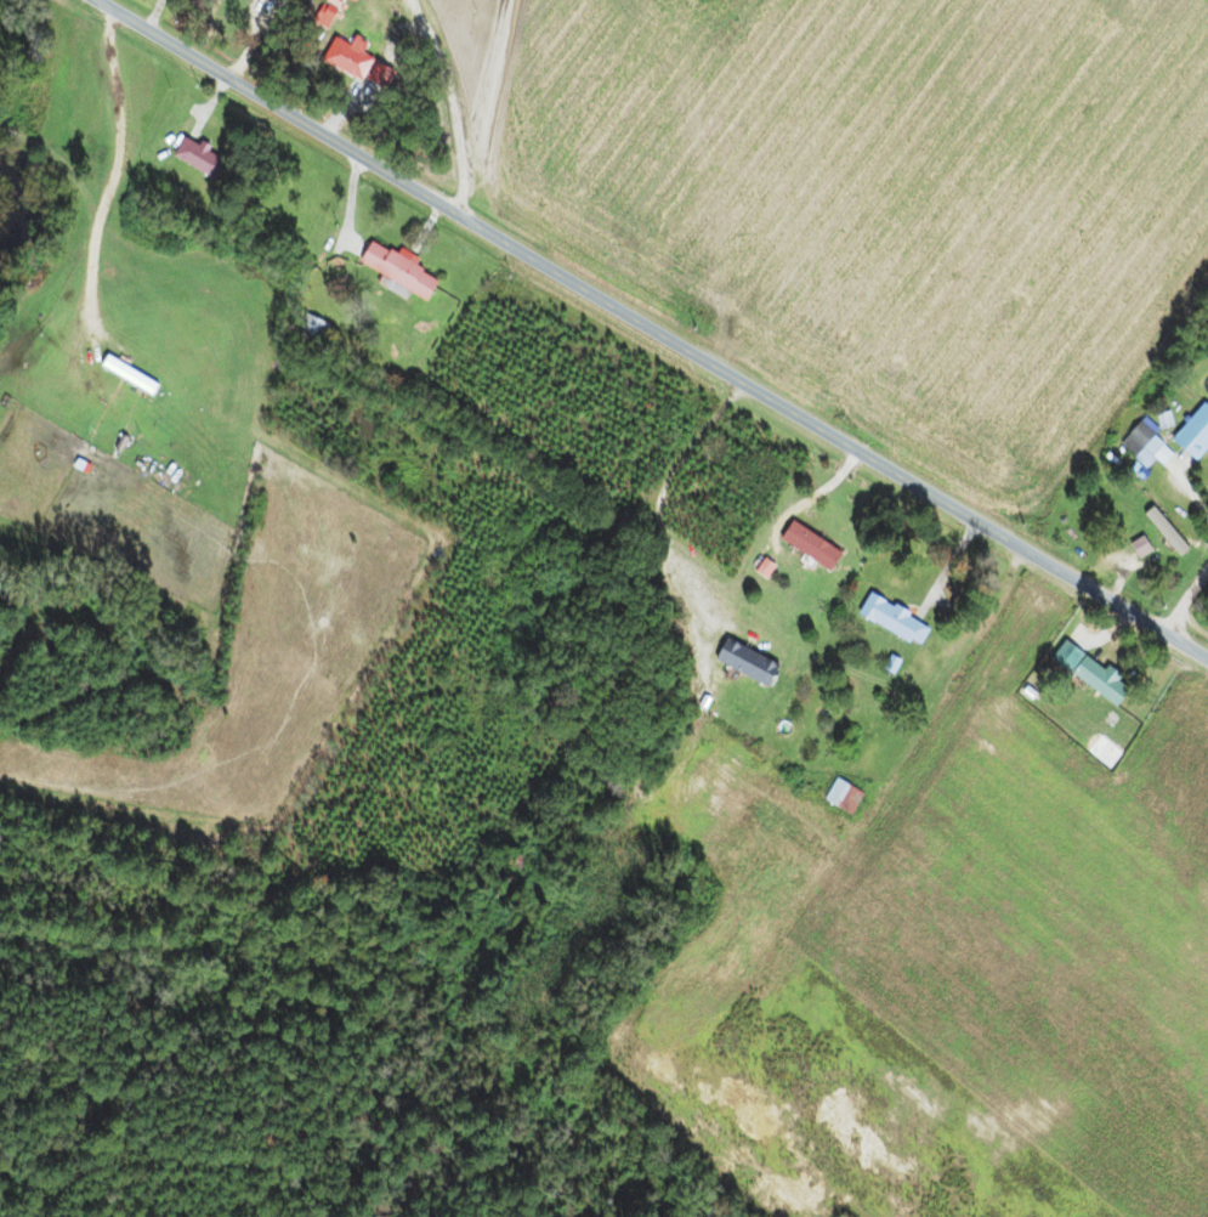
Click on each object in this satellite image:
building: (344, 57)
road: (450, 102)
road: (126, 149)
building: (194, 157)
building: (392, 271)
building: (310, 328)
road: (652, 328)
building: (1190, 435)
building: (1139, 443)
building: (1159, 539)
building: (806, 547)
road: (1186, 602)
building: (889, 622)
building: (741, 662)
building: (1095, 681)
building: (840, 797)

